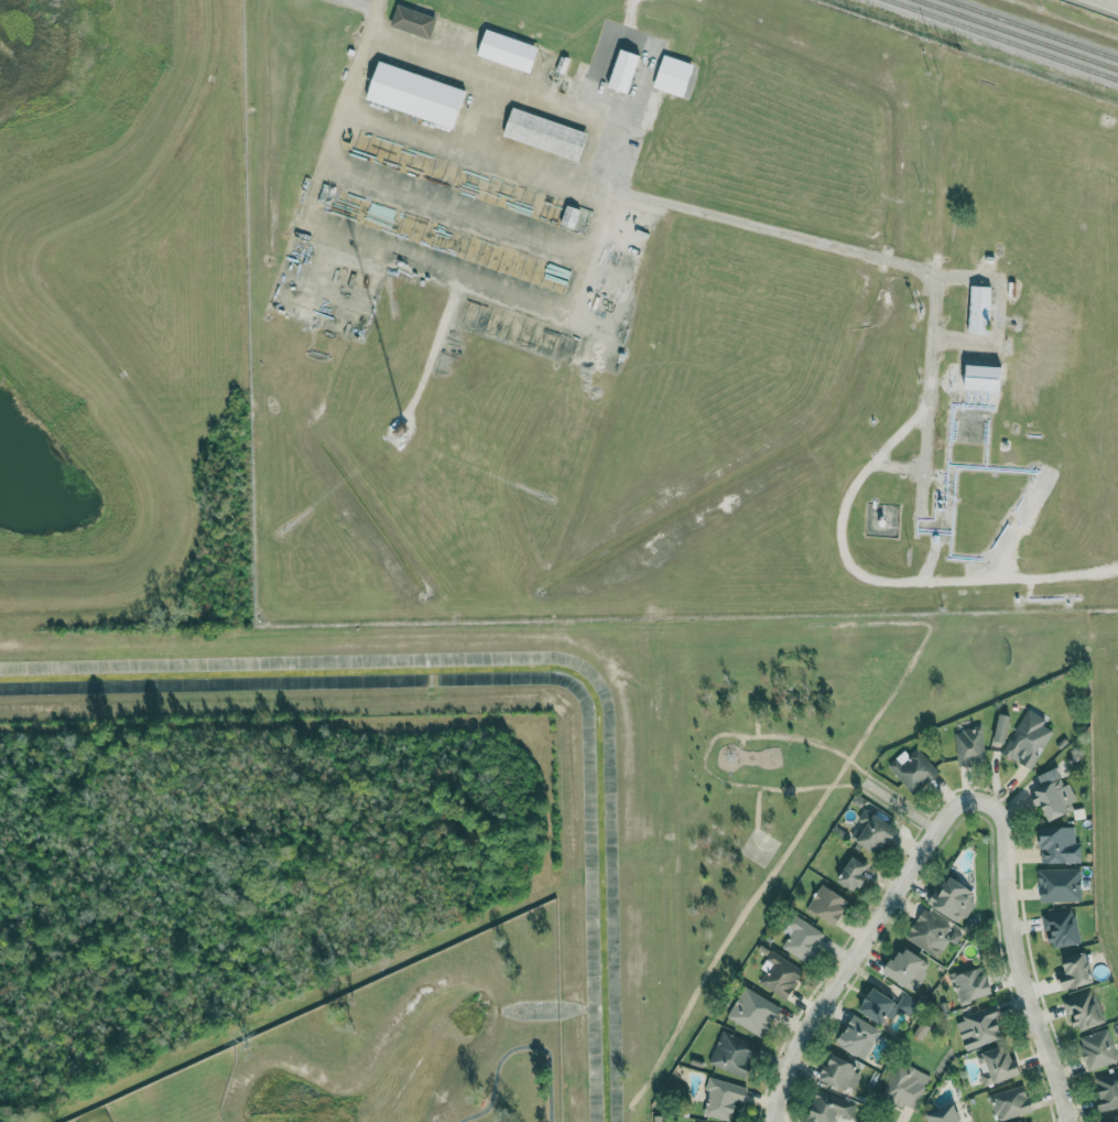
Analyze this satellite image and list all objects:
building: (413, 21)
railway: (1032, 30)
railway: (1019, 34)
railway: (1001, 39)
building: (508, 51)
building: (625, 71)
road: (482, 73)
building: (674, 75)
building: (416, 95)
road: (480, 112)
building: (546, 133)
road: (476, 151)
road: (619, 157)
building: (571, 217)
road: (409, 258)
road: (894, 261)
building: (980, 310)
building: (985, 378)
road: (926, 427)
road: (897, 435)
road: (901, 580)
building: (1002, 726)
building: (1028, 737)
building: (969, 746)
park: (791, 759)
building: (913, 768)
building: (1053, 794)
building: (877, 833)
building: (1060, 844)
building: (854, 873)
building: (1061, 884)
building: (953, 897)
building: (828, 903)
building: (1062, 927)
building: (932, 932)
building: (801, 937)
road: (858, 945)
road: (1018, 959)
building: (909, 967)
building: (1076, 971)
building: (780, 974)
building: (970, 984)
building: (886, 1004)
building: (1084, 1010)
building: (753, 1011)
building: (979, 1027)
building: (859, 1036)
building: (1098, 1048)
building: (734, 1054)
building: (997, 1064)
building: (840, 1072)
building: (905, 1086)
building: (1107, 1090)
building: (723, 1098)
building: (1010, 1103)
building: (834, 1109)
building: (945, 1114)
building: (1114, 1121)

